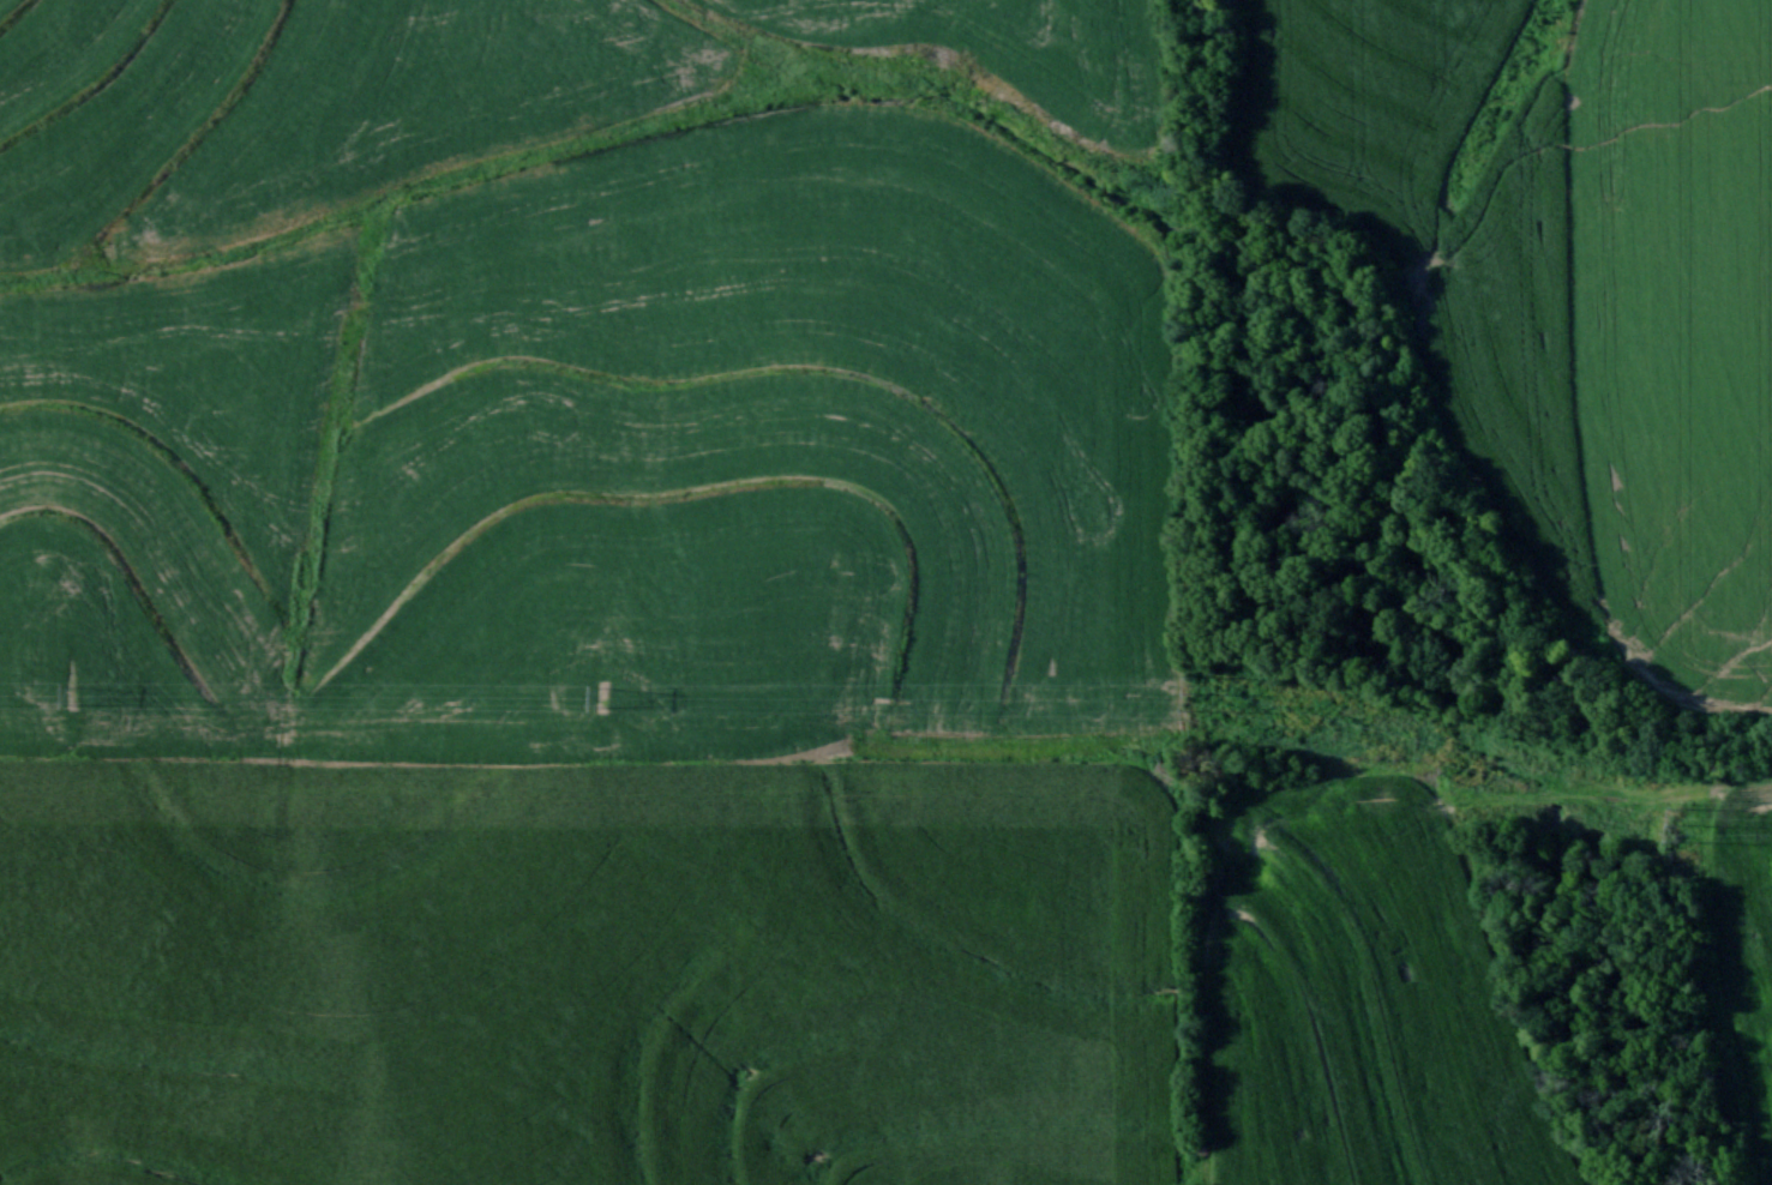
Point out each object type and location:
power tower: (603, 694)
power tower: (1195, 694)
power tower: (72, 696)
power tower: (1683, 814)

